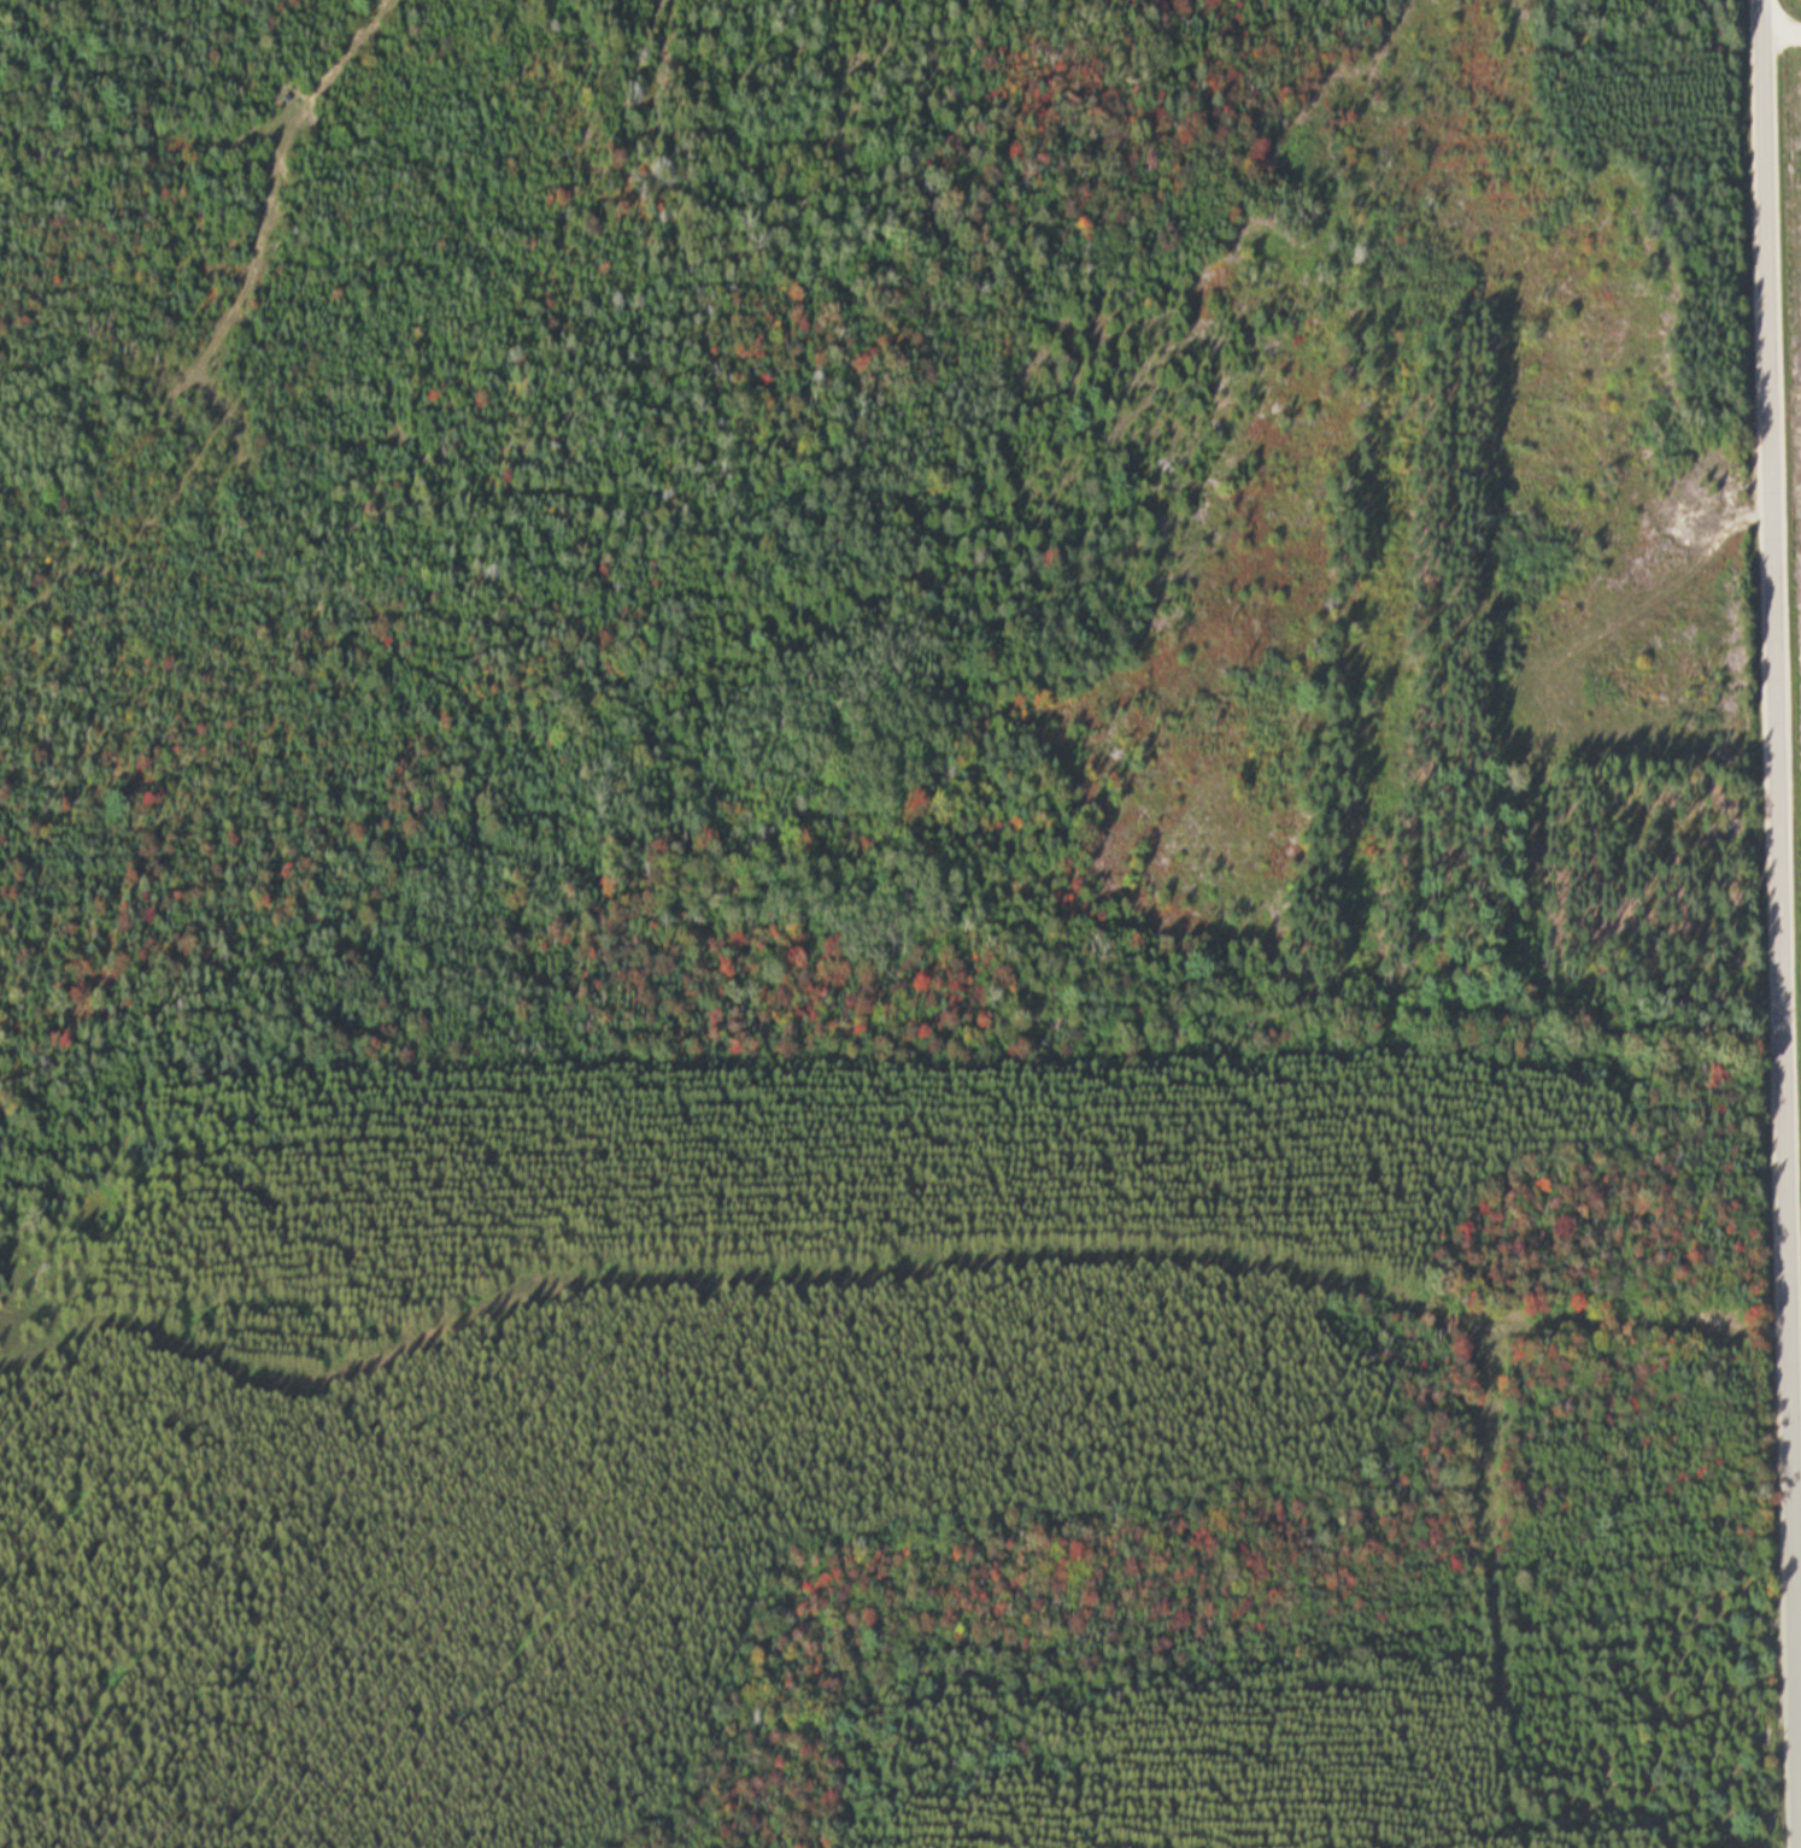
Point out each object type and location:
road: (1784, 43)
road: (1783, 869)
road: (876, 1269)

